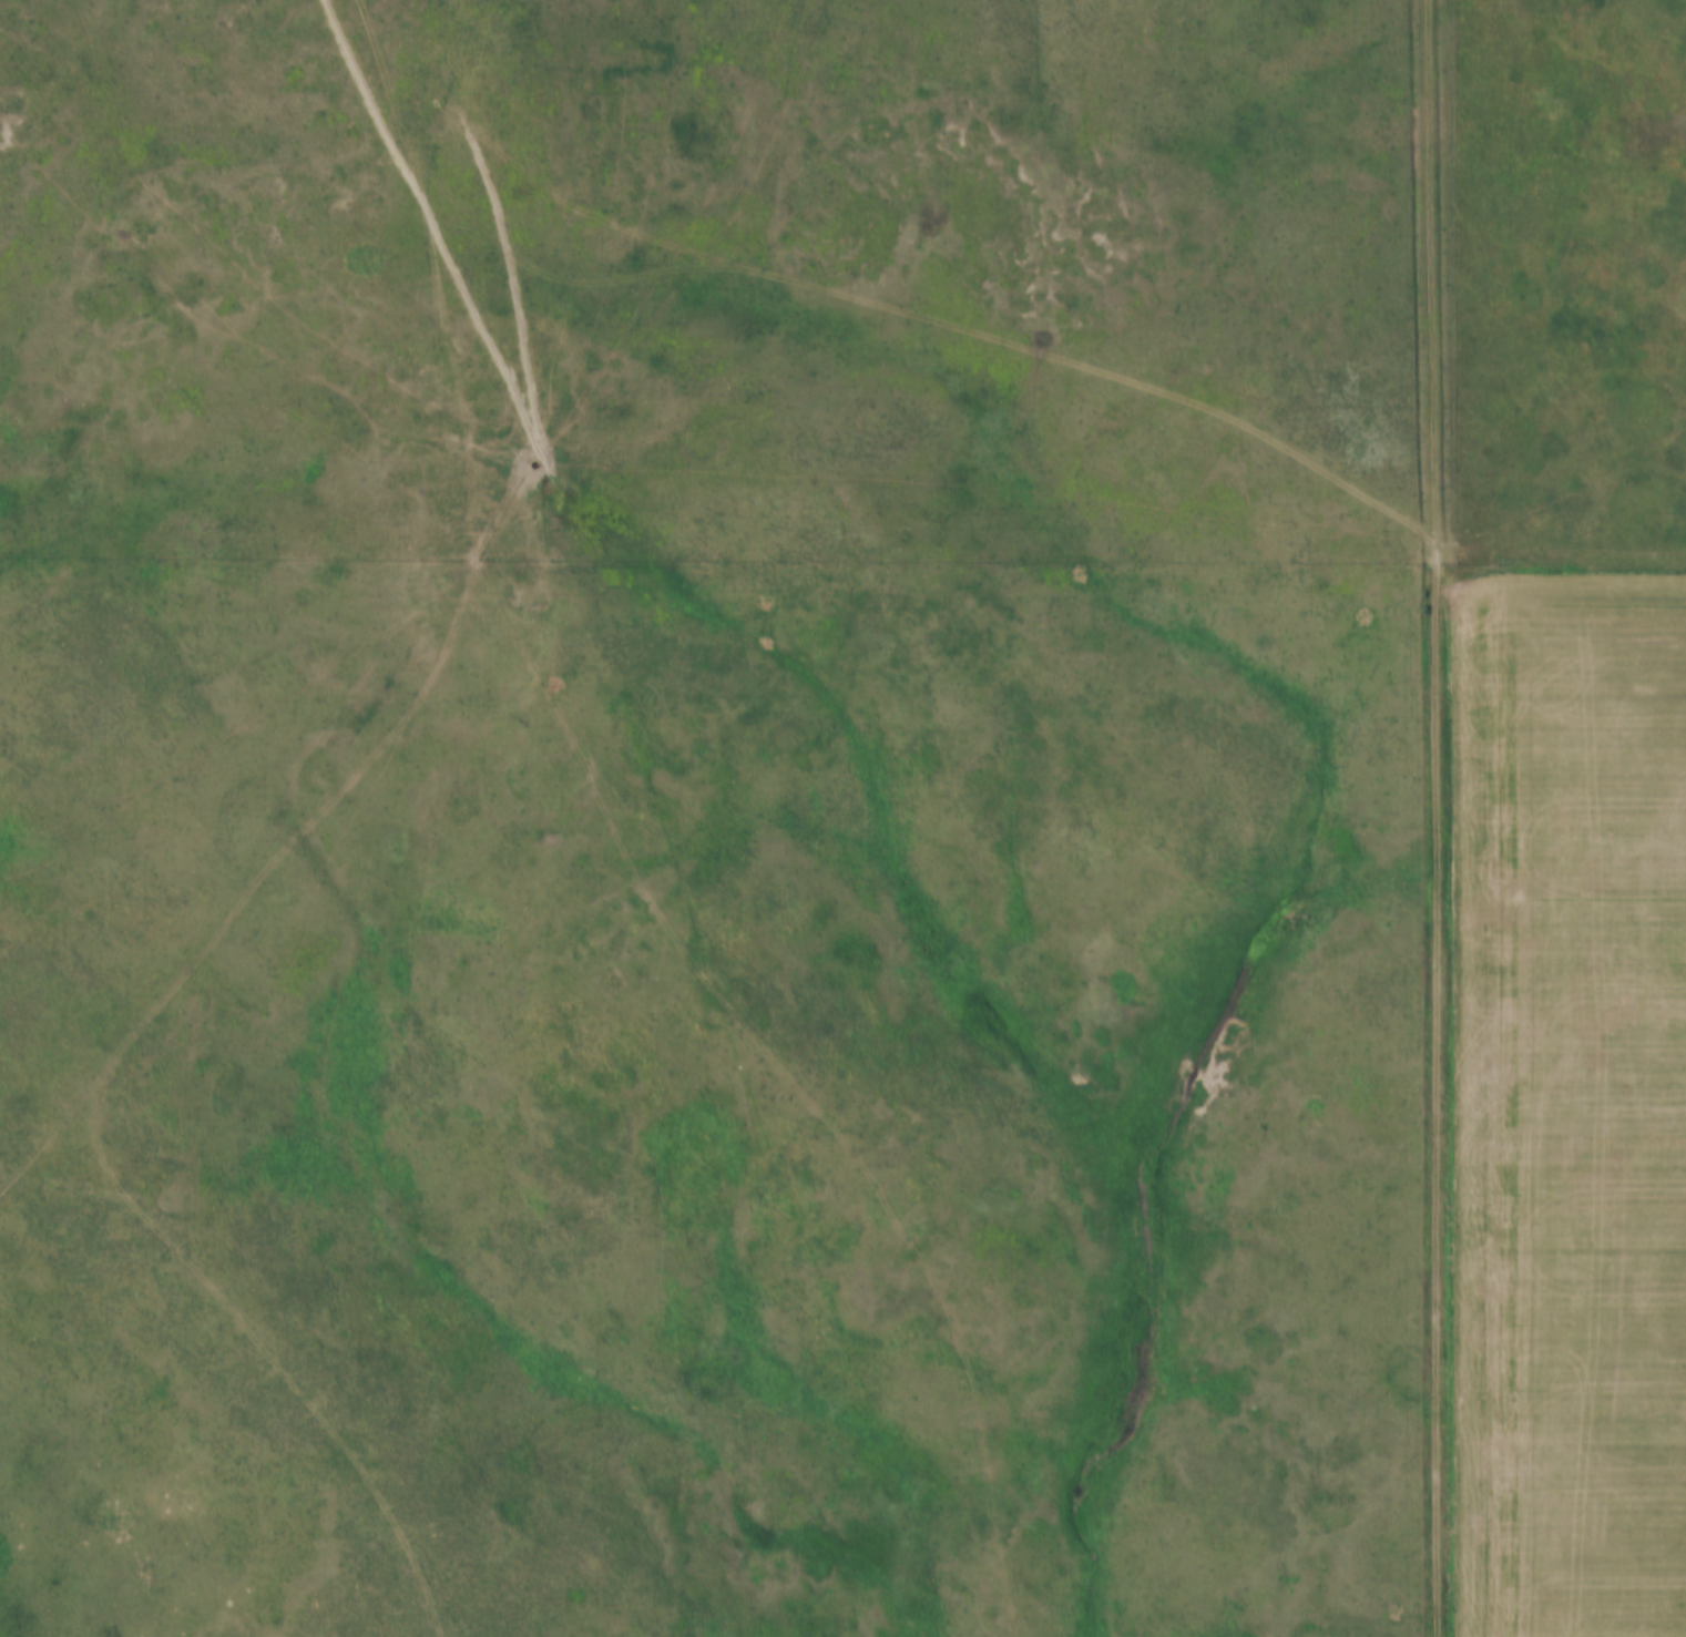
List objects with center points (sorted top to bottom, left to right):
road: (621, 480)
road: (427, 488)
road: (1441, 818)

